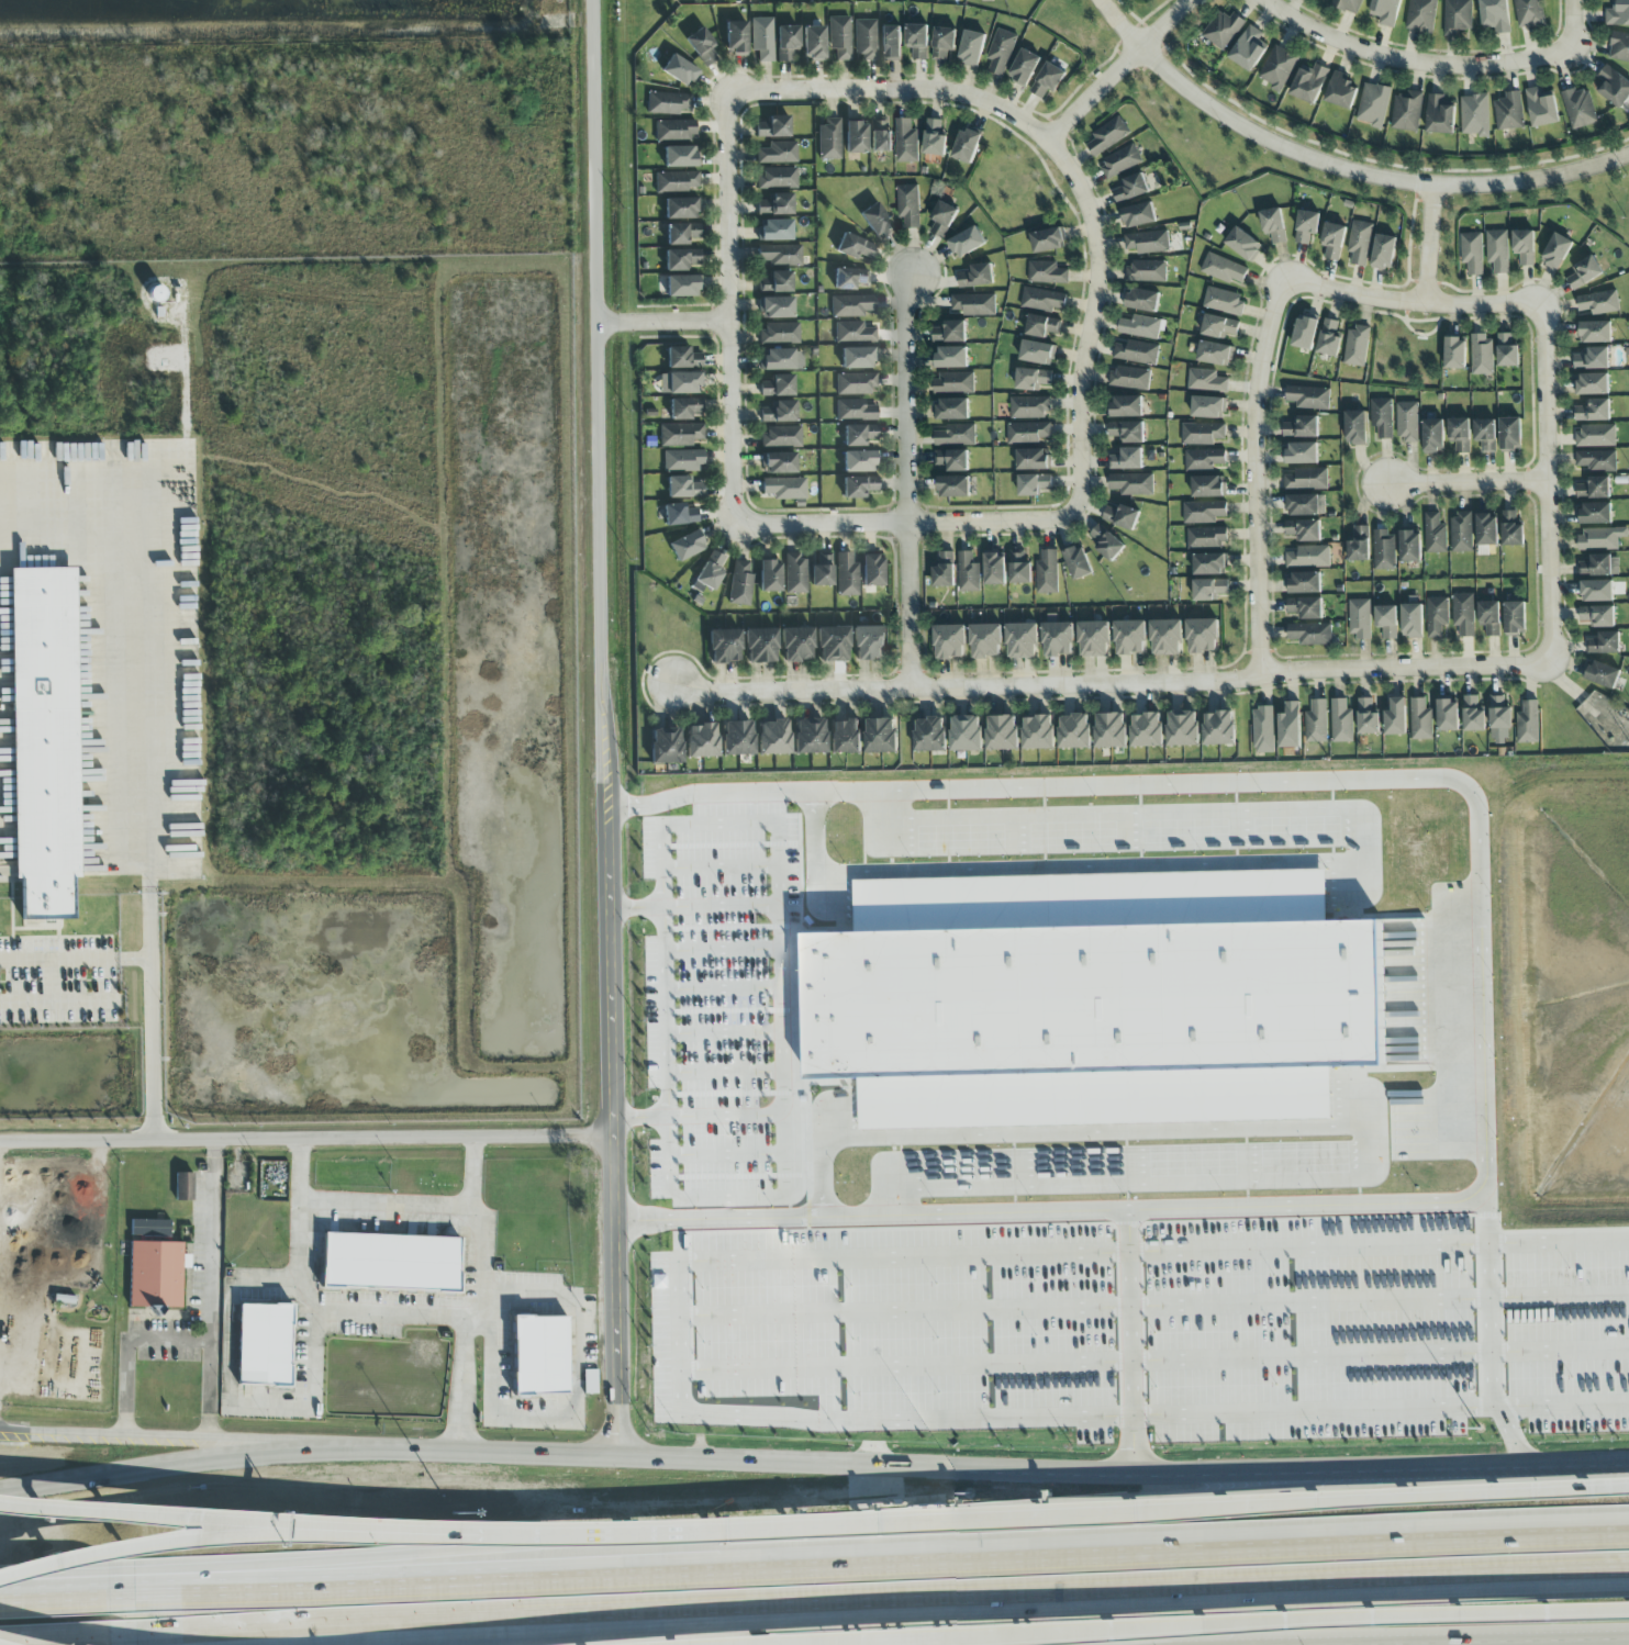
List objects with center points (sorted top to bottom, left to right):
building: (986, 0)
building: (1348, 5)
building: (1385, 11)
building: (1529, 13)
building: (1618, 13)
building: (1421, 15)
building: (1458, 16)
building: (1495, 16)
road: (1574, 26)
building: (1223, 30)
building: (735, 38)
building: (840, 38)
building: (761, 40)
building: (864, 41)
building: (916, 41)
building: (786, 42)
building: (889, 43)
building: (813, 44)
building: (944, 45)
building: (1619, 46)
building: (703, 48)
building: (972, 48)
building: (1249, 49)
building: (1001, 52)
road: (1418, 56)
building: (1025, 67)
building: (1279, 68)
road: (1117, 70)
building: (680, 72)
building: (1048, 80)
building: (1309, 83)
building: (1614, 87)
building: (1341, 91)
building: (668, 104)
building: (1374, 104)
building: (1580, 108)
building: (1541, 109)
building: (1406, 112)
building: (1509, 112)
building: (1441, 113)
building: (1475, 115)
building: (773, 128)
building: (674, 131)
building: (880, 136)
building: (1108, 136)
building: (855, 138)
building: (935, 138)
building: (829, 139)
building: (906, 142)
building: (967, 146)
building: (778, 154)
building: (681, 158)
road: (1058, 159)
building: (1120, 161)
road: (1341, 163)
building: (779, 179)
building: (676, 182)
building: (1131, 188)
building: (776, 205)
building: (910, 205)
building: (681, 209)
building: (1138, 215)
building: (942, 219)
building: (875, 222)
building: (1273, 225)
building: (1306, 226)
building: (774, 231)
building: (682, 234)
building: (1048, 240)
building: (1334, 240)
building: (967, 242)
building: (1148, 242)
building: (1360, 243)
road: (1430, 243)
building: (1243, 244)
building: (1524, 247)
building: (855, 248)
building: (1497, 250)
building: (1384, 251)
building: (1557, 251)
building: (1472, 253)
building: (780, 256)
building: (681, 260)
building: (1224, 269)
building: (1147, 271)
building: (1047, 272)
building: (1584, 272)
building: (977, 276)
building: (849, 279)
building: (776, 283)
building: (683, 287)
building: (1042, 300)
building: (1142, 300)
building: (1225, 302)
building: (1598, 302)
road: (1432, 303)
road: (732, 305)
building: (973, 305)
building: (851, 306)
building: (776, 309)
road: (667, 325)
building: (1041, 326)
building: (1141, 327)
building: (1219, 327)
building: (950, 332)
building: (1595, 332)
building: (853, 333)
building: (1305, 333)
building: (780, 334)
building: (1329, 338)
building: (1357, 346)
building: (1507, 351)
building: (1037, 352)
building: (1137, 352)
building: (1215, 354)
building: (1455, 354)
building: (1482, 355)
building: (858, 358)
building: (950, 358)
building: (683, 359)
building: (1592, 359)
building: (781, 360)
building: (1033, 379)
building: (1129, 379)
building: (1206, 381)
building: (955, 382)
building: (1592, 383)
building: (680, 384)
building: (855, 384)
building: (777, 387)
building: (1308, 398)
building: (1126, 406)
building: (1030, 407)
building: (1208, 407)
building: (952, 409)
building: (684, 410)
building: (855, 411)
building: (1593, 411)
building: (779, 413)
building: (1382, 417)
building: (1407, 422)
building: (1302, 427)
building: (1355, 427)
building: (1127, 432)
building: (1028, 433)
building: (1203, 434)
building: (1460, 434)
building: (1510, 434)
building: (680, 435)
building: (859, 435)
building: (955, 435)
building: (1486, 435)
building: (1433, 436)
building: (1595, 436)
building: (781, 437)
road: (1258, 450)
building: (1302, 454)
building: (1034, 459)
building: (1127, 459)
building: (1205, 459)
building: (952, 460)
building: (1596, 460)
building: (682, 461)
building: (859, 462)
building: (779, 463)
building: (1307, 479)
road: (1463, 481)
road: (910, 482)
road: (1540, 483)
building: (1034, 484)
building: (1131, 484)
building: (953, 486)
building: (1208, 486)
building: (859, 488)
building: (1594, 488)
building: (683, 489)
building: (784, 489)
building: (1305, 505)
building: (1204, 512)
building: (1594, 514)
building: (680, 515)
building: (1120, 516)
road: (905, 521)
building: (1487, 529)
building: (1511, 529)
building: (1304, 530)
building: (1361, 530)
building: (1462, 531)
building: (1435, 534)
building: (1207, 537)
building: (1600, 538)
building: (1107, 544)
building: (687, 546)
building: (1410, 546)
building: (1384, 549)
building: (1359, 550)
building: (1308, 557)
building: (1078, 562)
building: (1210, 564)
building: (1599, 566)
building: (1019, 568)
building: (995, 569)
building: (945, 570)
building: (872, 571)
building: (710, 572)
building: (822, 572)
building: (969, 572)
building: (1047, 572)
building: (795, 574)
building: (846, 575)
building: (769, 577)
building: (1304, 583)
building: (740, 585)
building: (1209, 589)
building: (1596, 591)
building: (1306, 607)
building: (1463, 614)
building: (1437, 616)
building: (1598, 616)
building: (1489, 617)
building: (1515, 617)
building: (1360, 618)
building: (1387, 620)
building: (1412, 620)
building: (1309, 634)
building: (1202, 635)
building: (1058, 637)
building: (1129, 637)
building: (1167, 637)
building: (1093, 638)
building: (986, 641)
building: (1022, 641)
building: (951, 642)
building: (832, 644)
building: (868, 644)
building: (1605, 644)
building: (795, 645)
building: (723, 646)
building: (759, 647)
building: (1603, 674)
road: (1114, 680)
building: (1448, 712)
building: (1474, 713)
building: (1368, 714)
building: (1397, 714)
building: (1421, 717)
building: (1500, 717)
building: (1317, 720)
building: (1342, 720)
building: (1529, 721)
building: (1290, 723)
building: (1183, 726)
building: (1220, 726)
building: (1111, 727)
building: (1148, 727)
building: (1075, 728)
building: (1264, 728)
road: (606, 729)
building: (1039, 731)
building: (1003, 732)
building: (930, 734)
building: (966, 734)
building: (43, 735)
building: (881, 735)
building: (808, 736)
building: (735, 737)
building: (772, 737)
building: (845, 737)
building: (700, 740)
road: (145, 742)
building: (666, 745)
road: (1107, 784)
road: (1327, 861)
road: (719, 865)
road: (721, 907)
road: (782, 927)
road: (722, 949)
road: (75, 960)
road: (723, 986)
building: (1093, 998)
road: (662, 1011)
road: (725, 1032)
road: (1481, 1039)
road: (726, 1070)
road: (305, 1135)
road: (728, 1151)
road: (816, 1154)
building: (183, 1187)
road: (732, 1194)
road: (1187, 1207)
road: (390, 1216)
building: (149, 1229)
road: (1358, 1242)
road: (1, 1262)
building: (389, 1262)
road: (299, 1266)
road: (478, 1271)
building: (155, 1275)
road: (211, 1287)
road: (1151, 1300)
road: (419, 1320)
road: (676, 1335)
building: (261, 1344)
road: (127, 1349)
road: (228, 1353)
building: (537, 1354)
road: (1128, 1361)
road: (1152, 1362)
building: (588, 1380)
road: (1562, 1405)
road: (1312, 1410)
road: (574, 1418)
road: (16, 1435)
road: (199, 1437)
road: (629, 1459)
road: (1578, 1467)
road: (1396, 1470)
road: (1387, 1497)
road: (154, 1514)
road: (829, 1521)
road: (727, 1525)
road: (153, 1545)
road: (878, 1557)
road: (64, 1590)
road: (872, 1598)
road: (1224, 1625)
road: (524, 1630)
road: (58, 1633)
road: (1576, 1637)
road: (1402, 1642)
road: (8, 1643)

